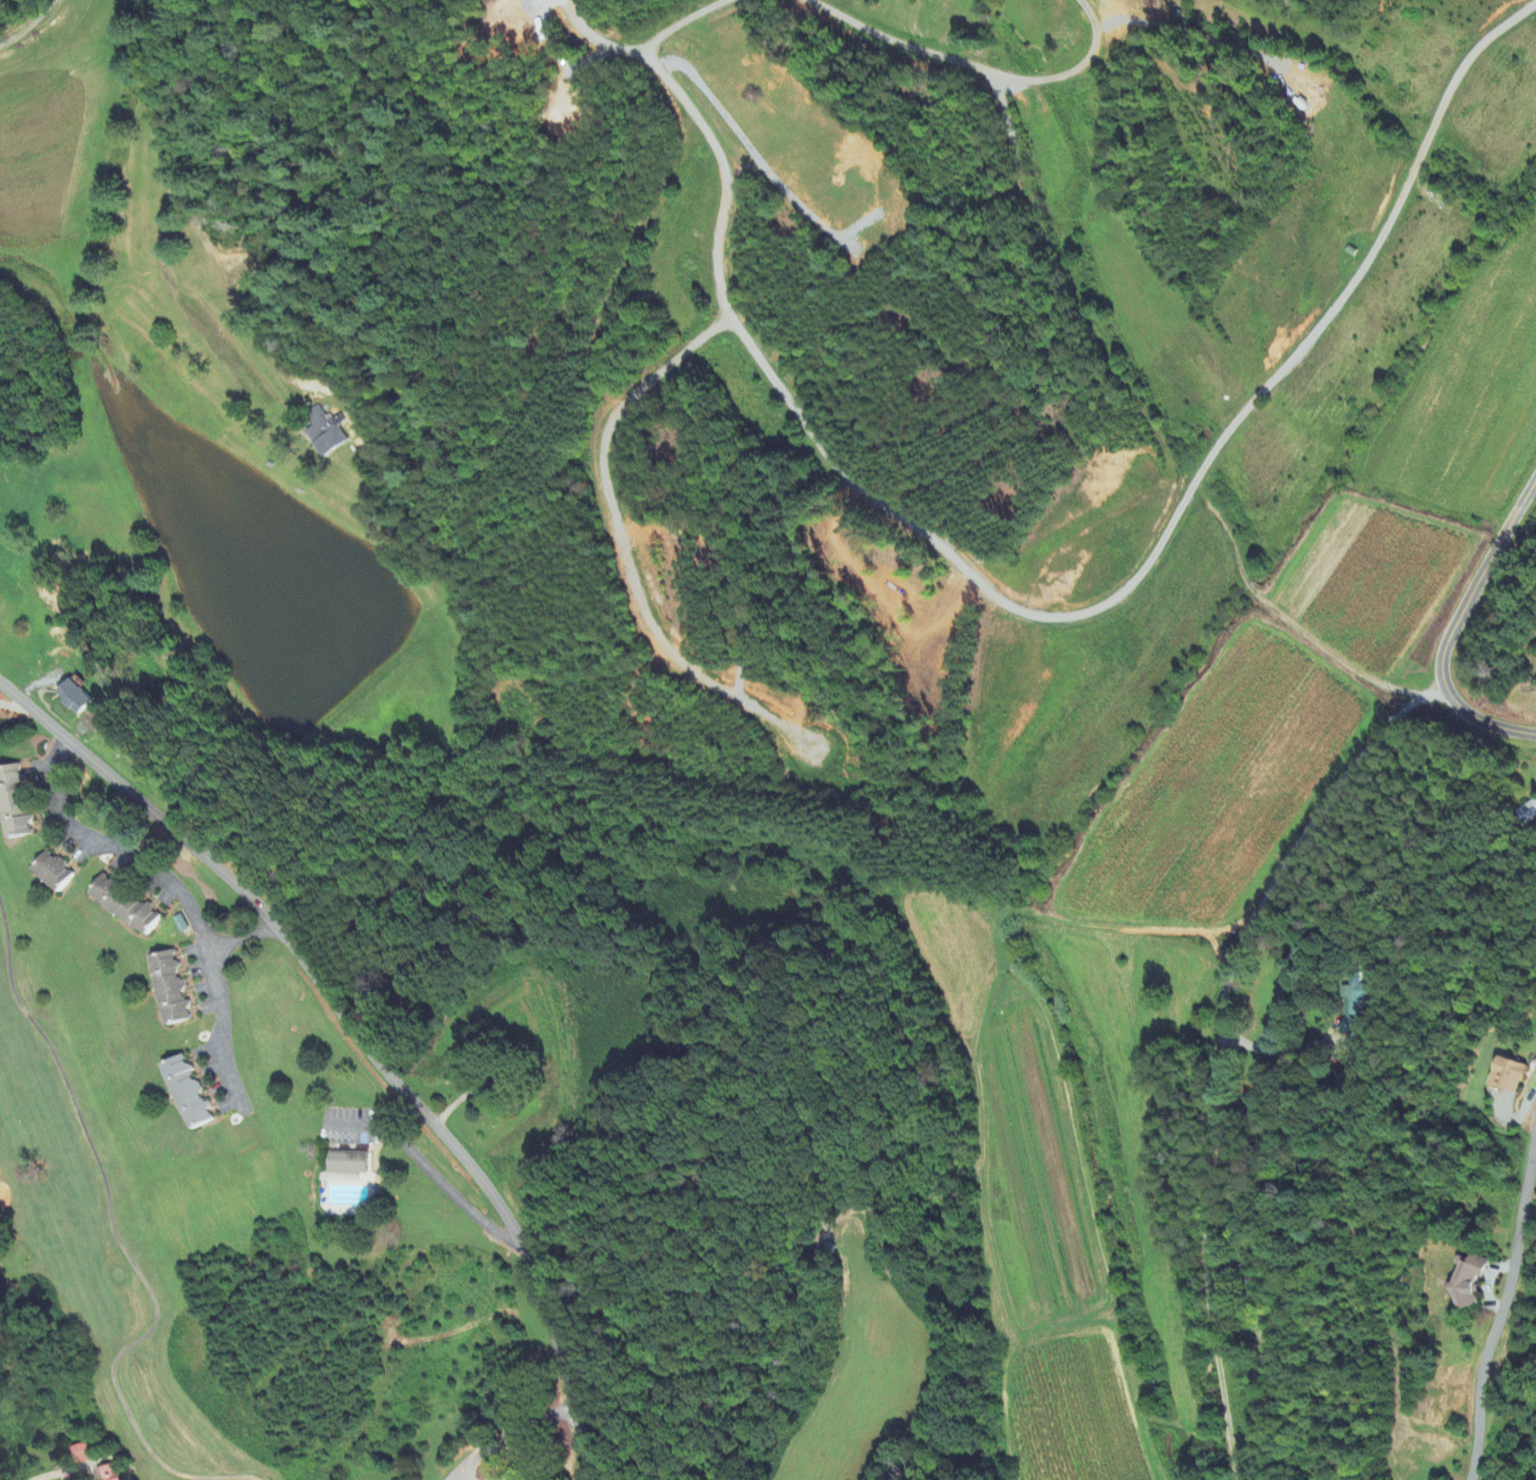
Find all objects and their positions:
road: (683, 19)
road: (29, 25)
road: (592, 40)
road: (975, 67)
road: (164, 228)
building: (323, 432)
road: (624, 547)
road: (1080, 612)
road: (1451, 626)
building: (76, 698)
building: (14, 803)
building: (1530, 811)
road: (140, 865)
building: (53, 872)
building: (124, 905)
building: (170, 989)
building: (1352, 1003)
road: (221, 1031)
road: (358, 1038)
road: (1218, 1048)
building: (1512, 1076)
building: (188, 1093)
building: (348, 1163)
road: (426, 1170)
park: (213, 1209)
building: (1471, 1280)
road: (1501, 1303)
road: (515, 1433)
building: (80, 1455)
road: (462, 1469)
parking lot: (474, 1471)
road: (61, 1473)
building: (110, 1474)

